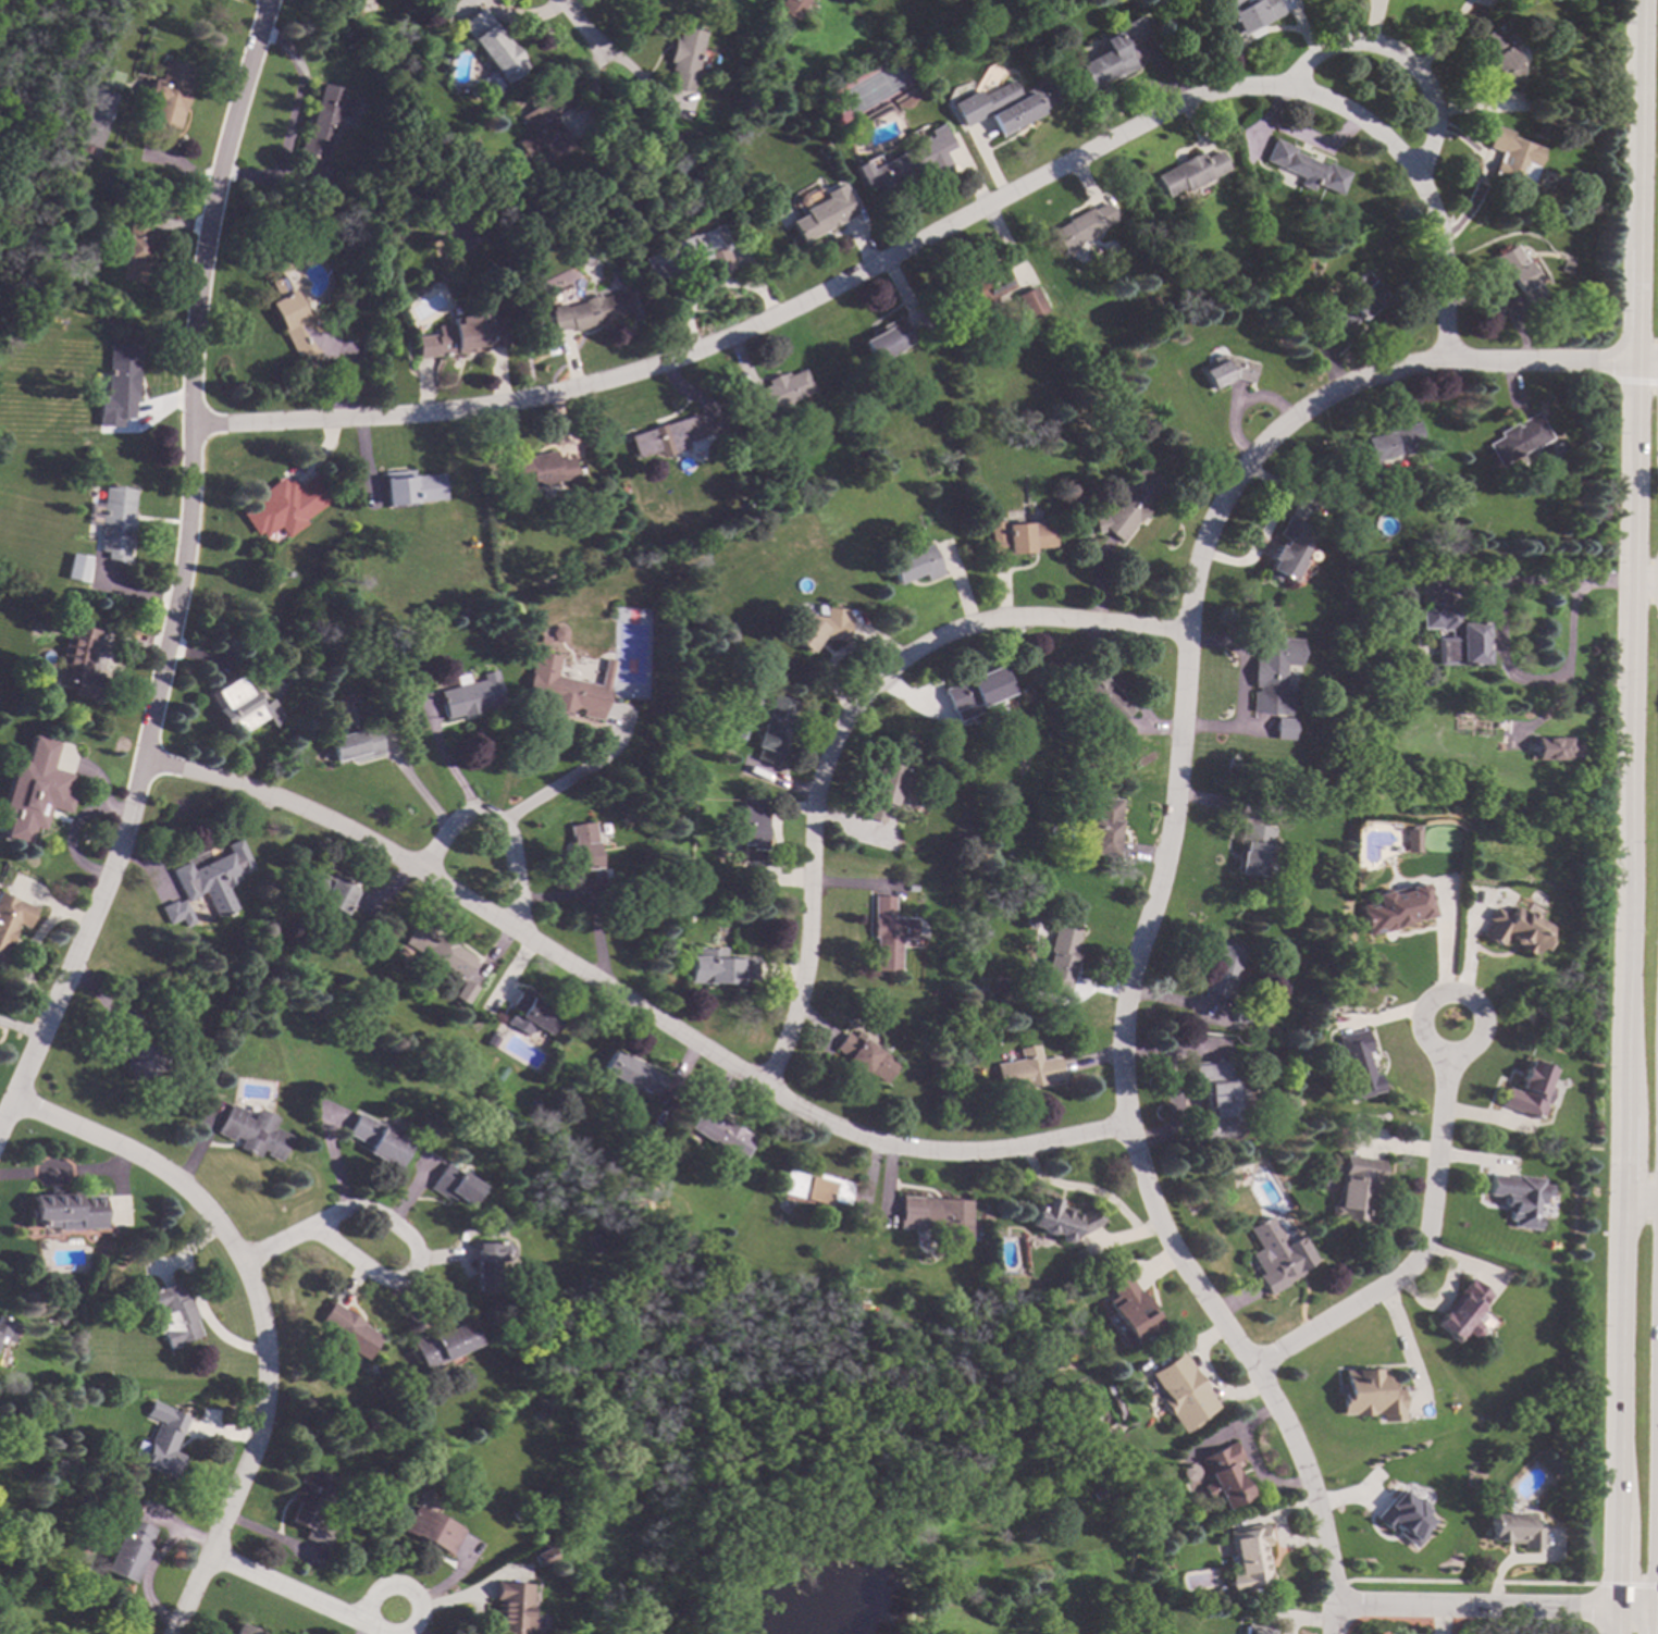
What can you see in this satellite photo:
building: (792, 7)
building: (1248, 13)
road: (577, 25)
building: (492, 46)
building: (1110, 55)
building: (686, 59)
road: (1405, 59)
building: (1502, 59)
building: (490, 84)
building: (1556, 92)
building: (168, 95)
park: (42, 104)
building: (1004, 108)
building: (545, 127)
building: (1541, 131)
building: (320, 138)
building: (84, 149)
building: (1510, 159)
building: (907, 162)
building: (1304, 169)
building: (1189, 173)
building: (799, 200)
building: (822, 214)
building: (647, 227)
building: (1080, 227)
building: (456, 234)
road: (914, 244)
building: (134, 250)
building: (535, 255)
building: (689, 255)
building: (284, 264)
building: (1564, 267)
building: (1518, 274)
building: (976, 294)
building: (1153, 301)
building: (1357, 302)
building: (1029, 304)
building: (589, 311)
building: (298, 325)
building: (461, 336)
building: (886, 339)
building: (1228, 370)
road: (1635, 382)
building: (117, 386)
building: (778, 396)
building: (665, 437)
building: (1515, 440)
building: (1103, 442)
building: (1385, 442)
building: (1554, 450)
building: (542, 469)
building: (412, 487)
building: (282, 502)
building: (1127, 506)
building: (114, 522)
building: (1359, 533)
building: (1017, 537)
building: (75, 542)
building: (1289, 550)
building: (913, 565)
building: (75, 569)
road: (1195, 569)
road: (171, 579)
building: (1299, 580)
building: (1345, 584)
road: (1643, 585)
building: (817, 631)
building: (1453, 636)
building: (542, 639)
road: (1499, 643)
building: (568, 660)
building: (78, 663)
building: (1271, 673)
building: (566, 688)
building: (974, 693)
building: (469, 696)
building: (1102, 697)
building: (244, 706)
road: (840, 720)
building: (772, 729)
building: (1282, 729)
building: (356, 744)
building: (1552, 748)
road: (451, 771)
road: (565, 784)
road: (420, 788)
building: (886, 790)
building: (60, 797)
road: (1624, 816)
road: (453, 822)
building: (1102, 826)
building: (751, 830)
building: (1412, 835)
road: (199, 849)
building: (1250, 849)
building: (583, 854)
building: (214, 878)
road: (514, 879)
building: (912, 889)
building: (329, 891)
building: (1395, 909)
building: (176, 913)
building: (11, 916)
building: (1515, 930)
building: (889, 934)
building: (363, 949)
building: (436, 950)
road: (1444, 956)
building: (1, 957)
building: (1057, 964)
road: (1468, 965)
building: (1222, 967)
building: (717, 968)
building: (463, 992)
road: (627, 999)
building: (1242, 1013)
building: (532, 1015)
building: (491, 1040)
building: (140, 1053)
building: (867, 1056)
building: (1356, 1065)
building: (1029, 1069)
building: (628, 1074)
building: (1526, 1091)
building: (1216, 1100)
building: (718, 1131)
building: (253, 1132)
building: (378, 1140)
road: (145, 1163)
road: (65, 1173)
building: (455, 1186)
building: (814, 1188)
building: (1353, 1189)
building: (1515, 1198)
road: (1637, 1203)
building: (66, 1211)
building: (937, 1217)
building: (1056, 1218)
road: (1419, 1236)
building: (590, 1237)
road: (280, 1241)
building: (704, 1253)
building: (1273, 1255)
building: (487, 1263)
road: (405, 1279)
building: (884, 1304)
building: (1125, 1311)
building: (1458, 1313)
building: (174, 1315)
building: (5, 1332)
building: (347, 1333)
building: (442, 1342)
road: (1396, 1346)
road: (1250, 1359)
building: (369, 1370)
building: (1176, 1392)
building: (1365, 1395)
building: (162, 1446)
road: (251, 1451)
park: (855, 1469)
building: (1184, 1472)
building: (1217, 1476)
building: (1098, 1494)
road: (1656, 1496)
building: (309, 1507)
building: (1400, 1519)
building: (431, 1530)
building: (1512, 1530)
building: (22, 1548)
building: (127, 1550)
building: (543, 1558)
building: (1245, 1559)
road: (149, 1561)
road: (1625, 1585)
road: (300, 1598)
road: (454, 1599)
building: (510, 1608)
road: (1493, 1610)
road: (1329, 1622)
road: (1654, 1622)
building: (239, 1630)
building: (1253, 1630)

